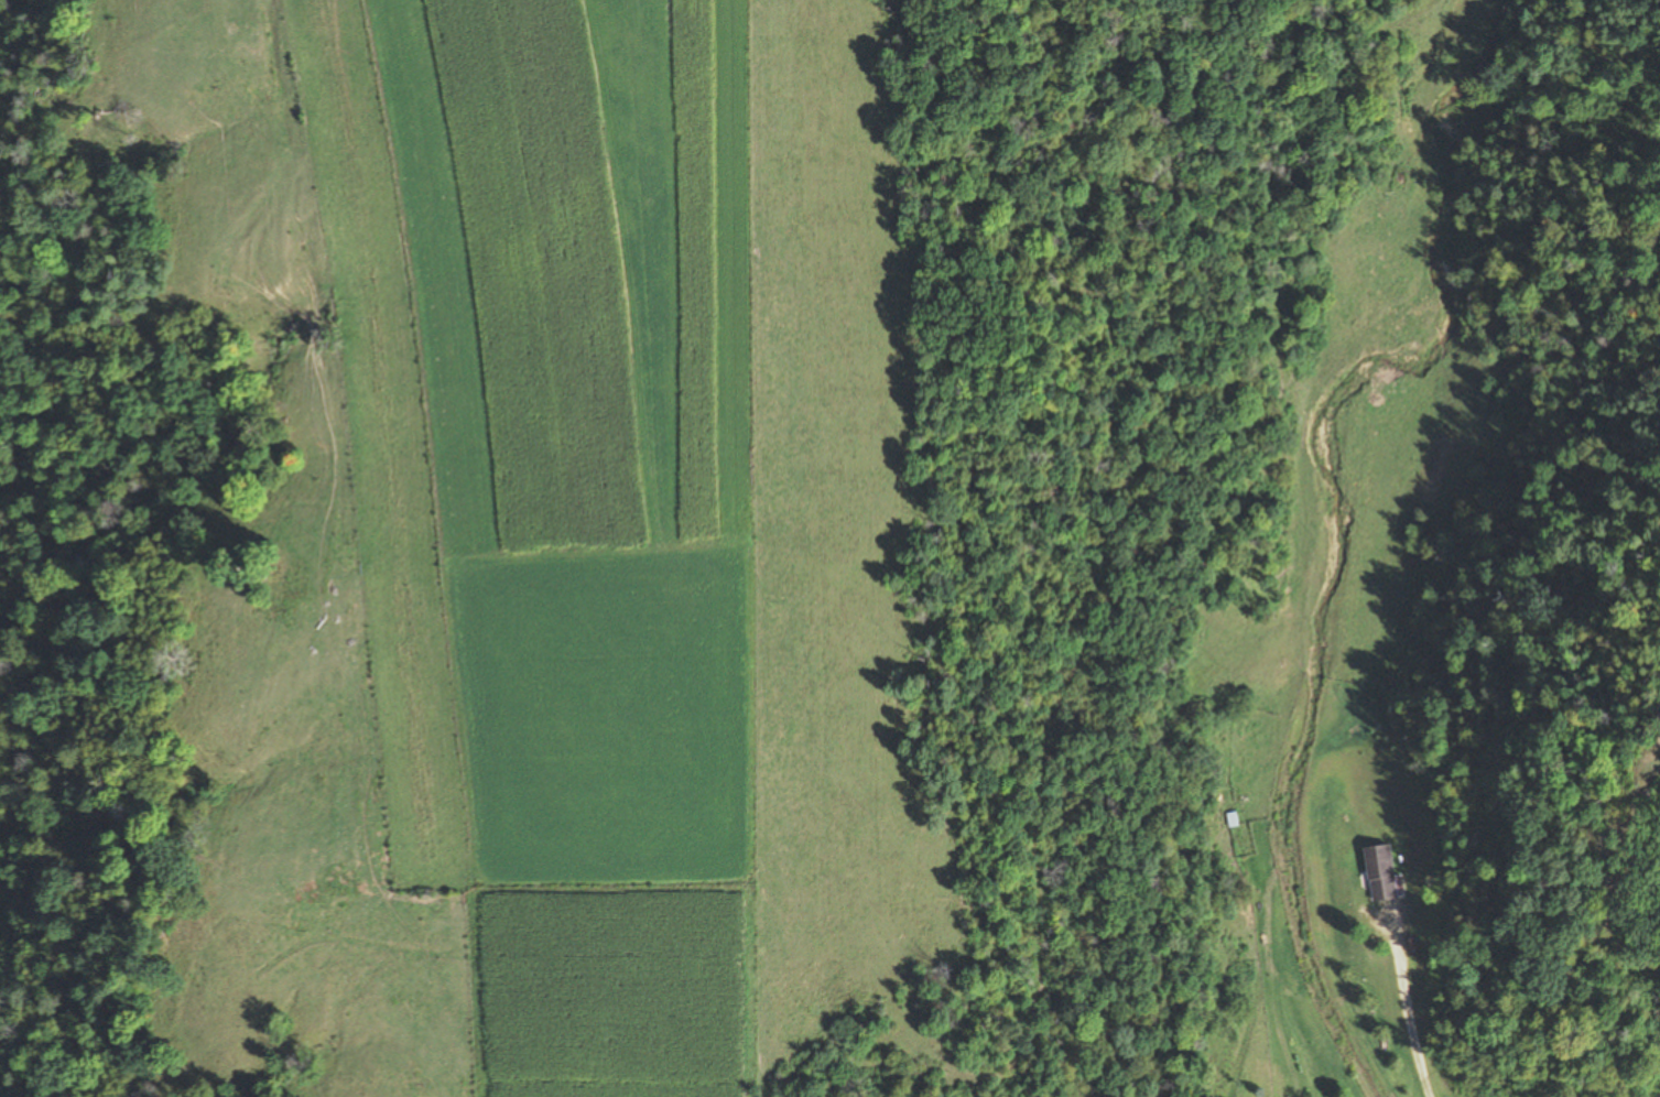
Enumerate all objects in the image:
building: (1379, 873)

